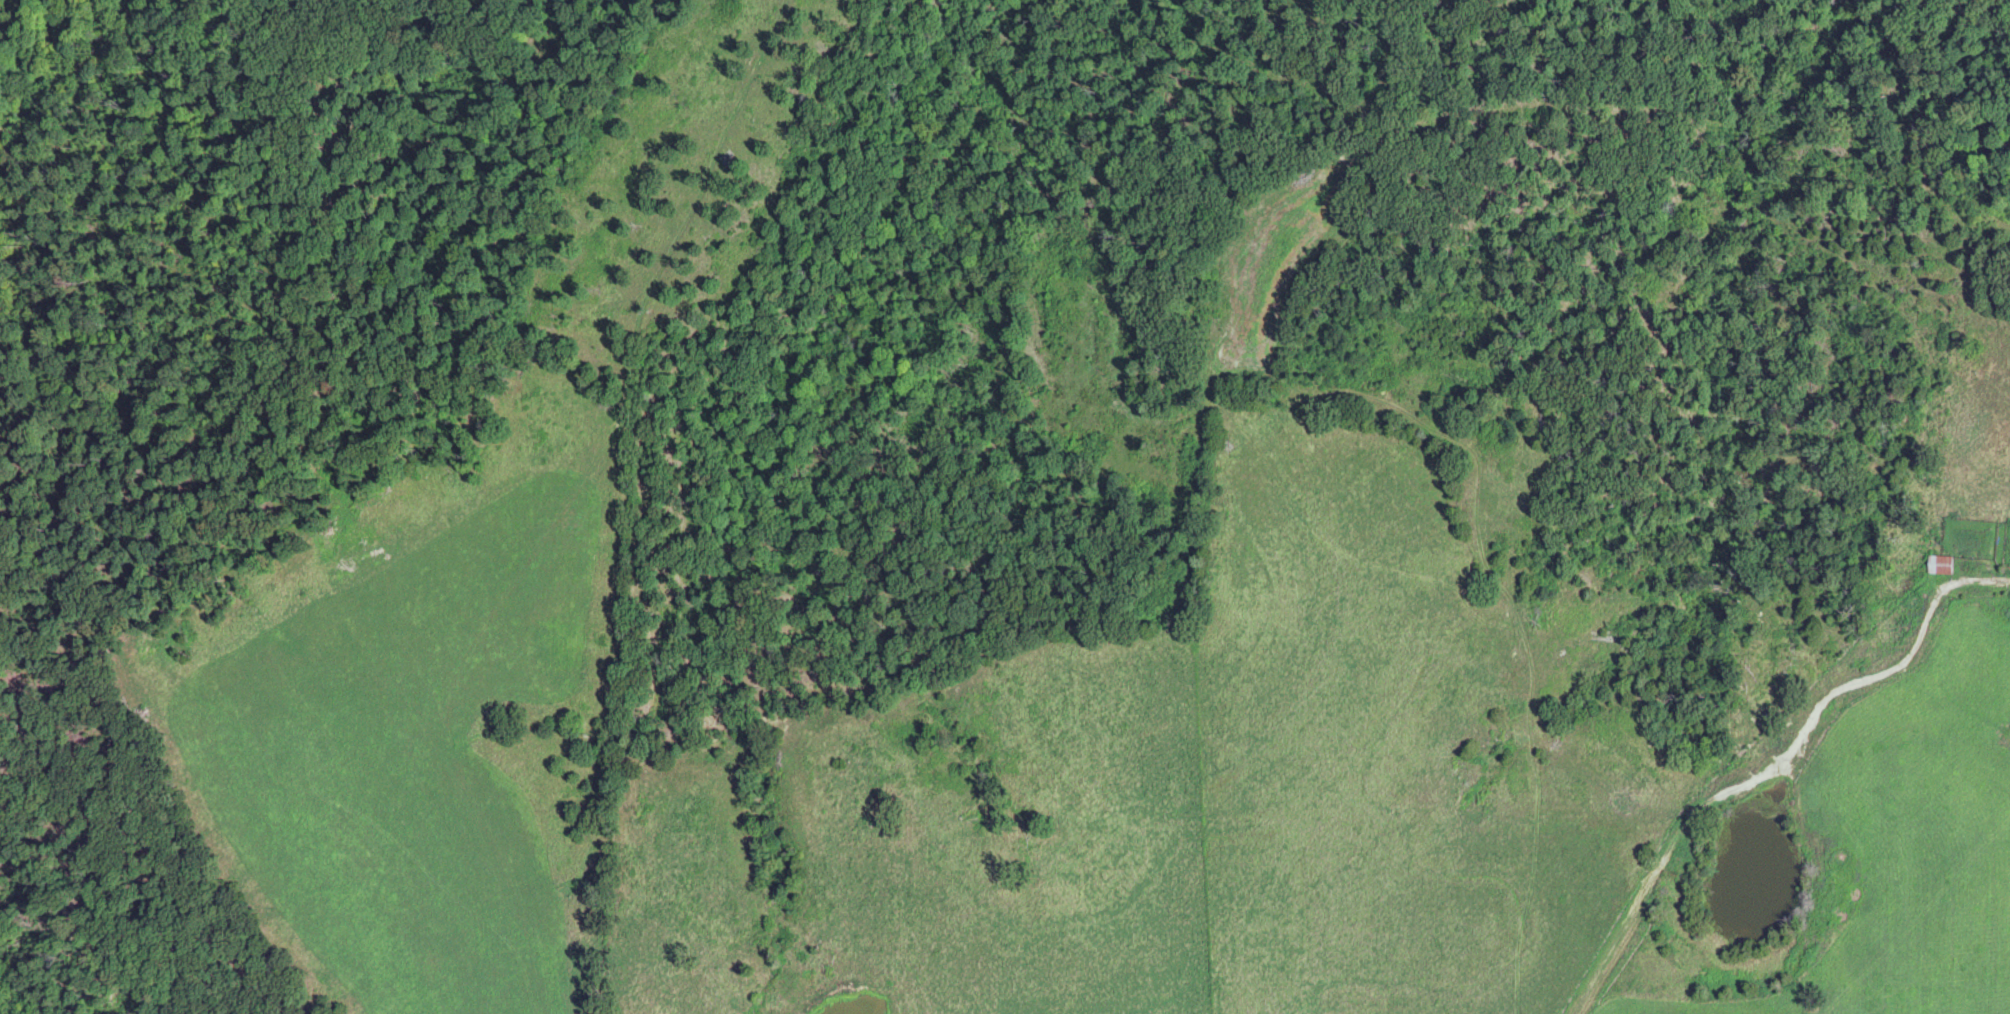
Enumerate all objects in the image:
building: (1936, 565)
road: (1862, 681)

